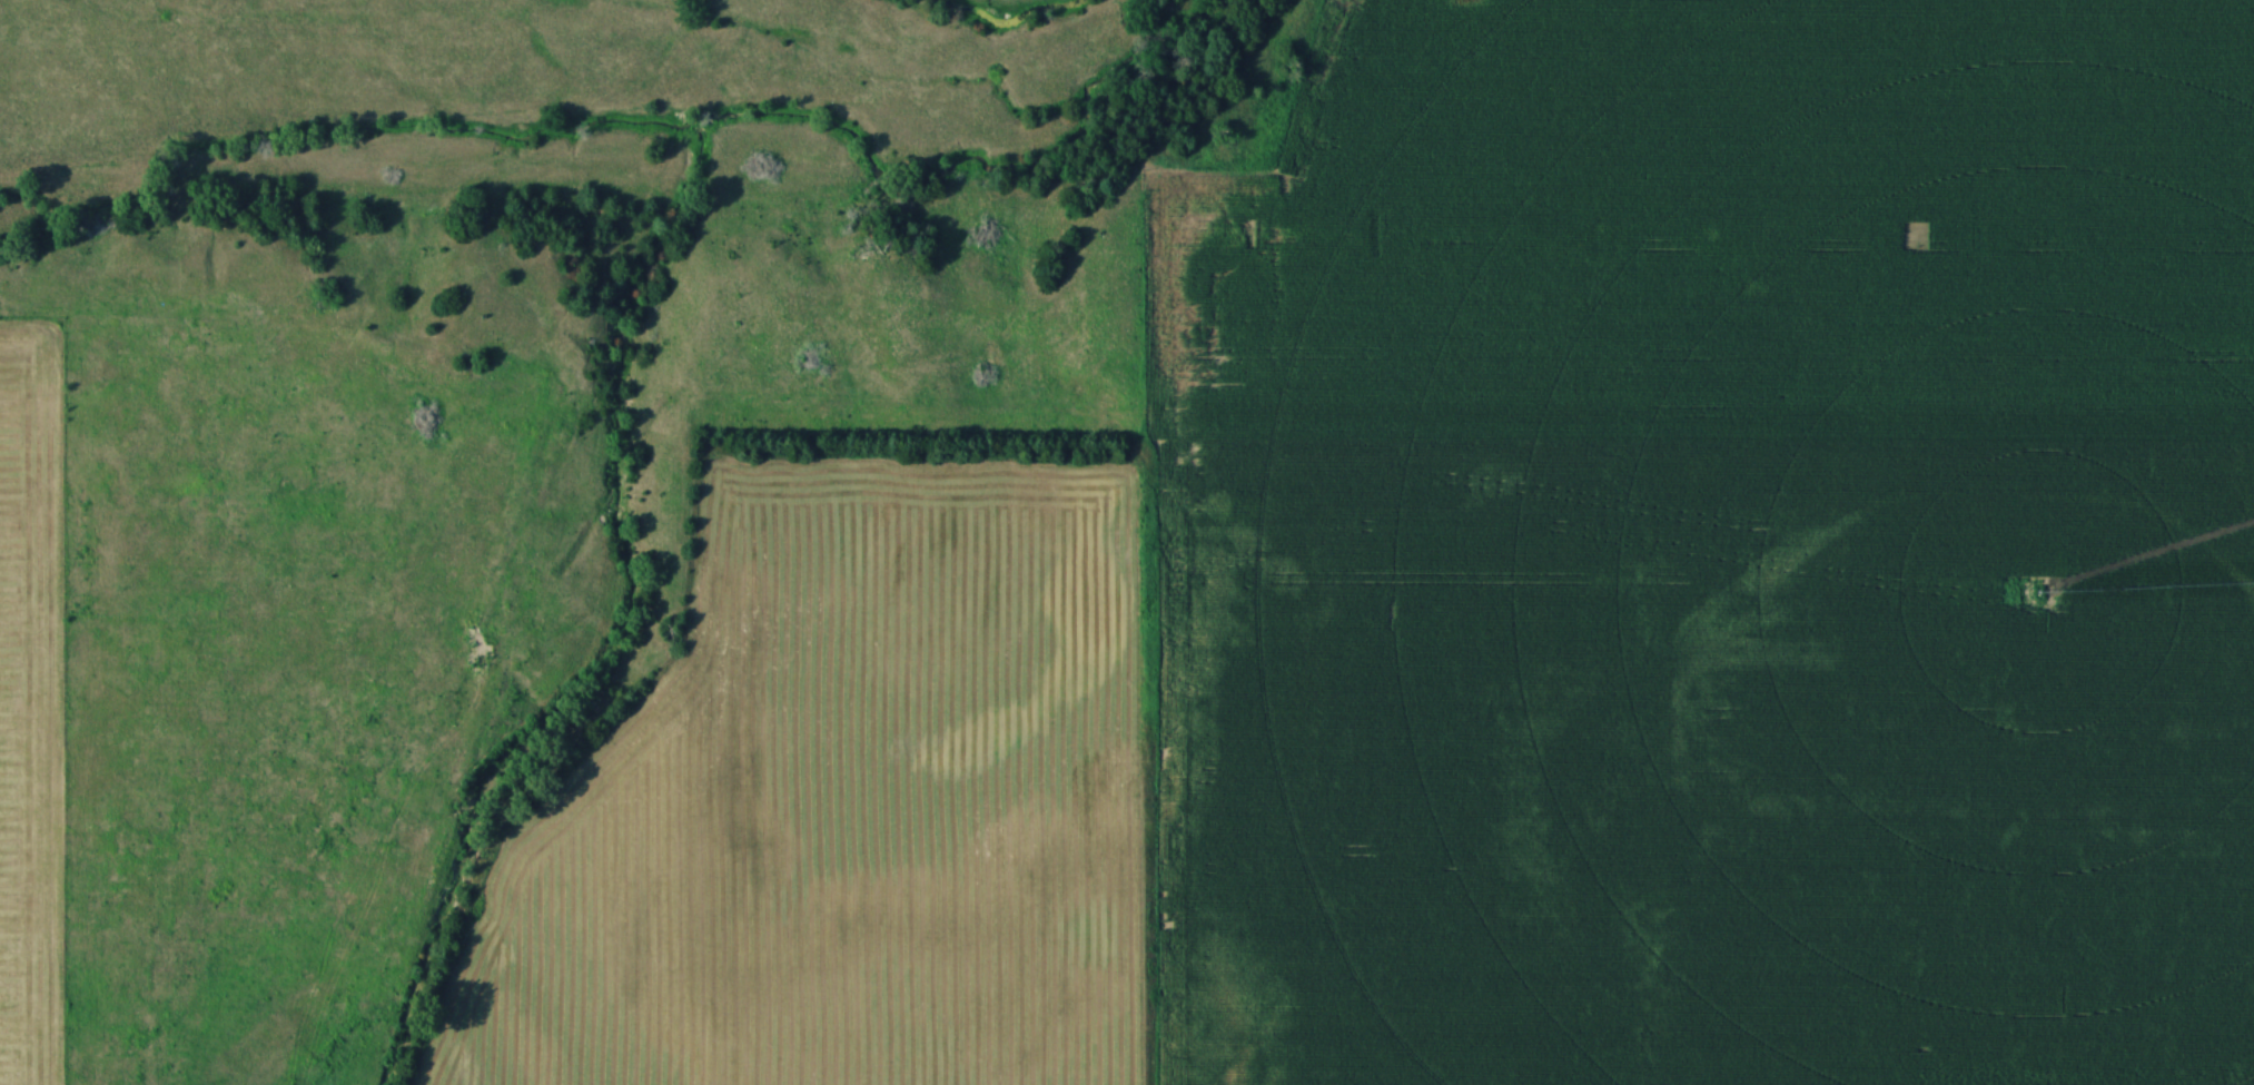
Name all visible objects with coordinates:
building: (938, 704)
building: (807, 742)
building: (849, 982)

